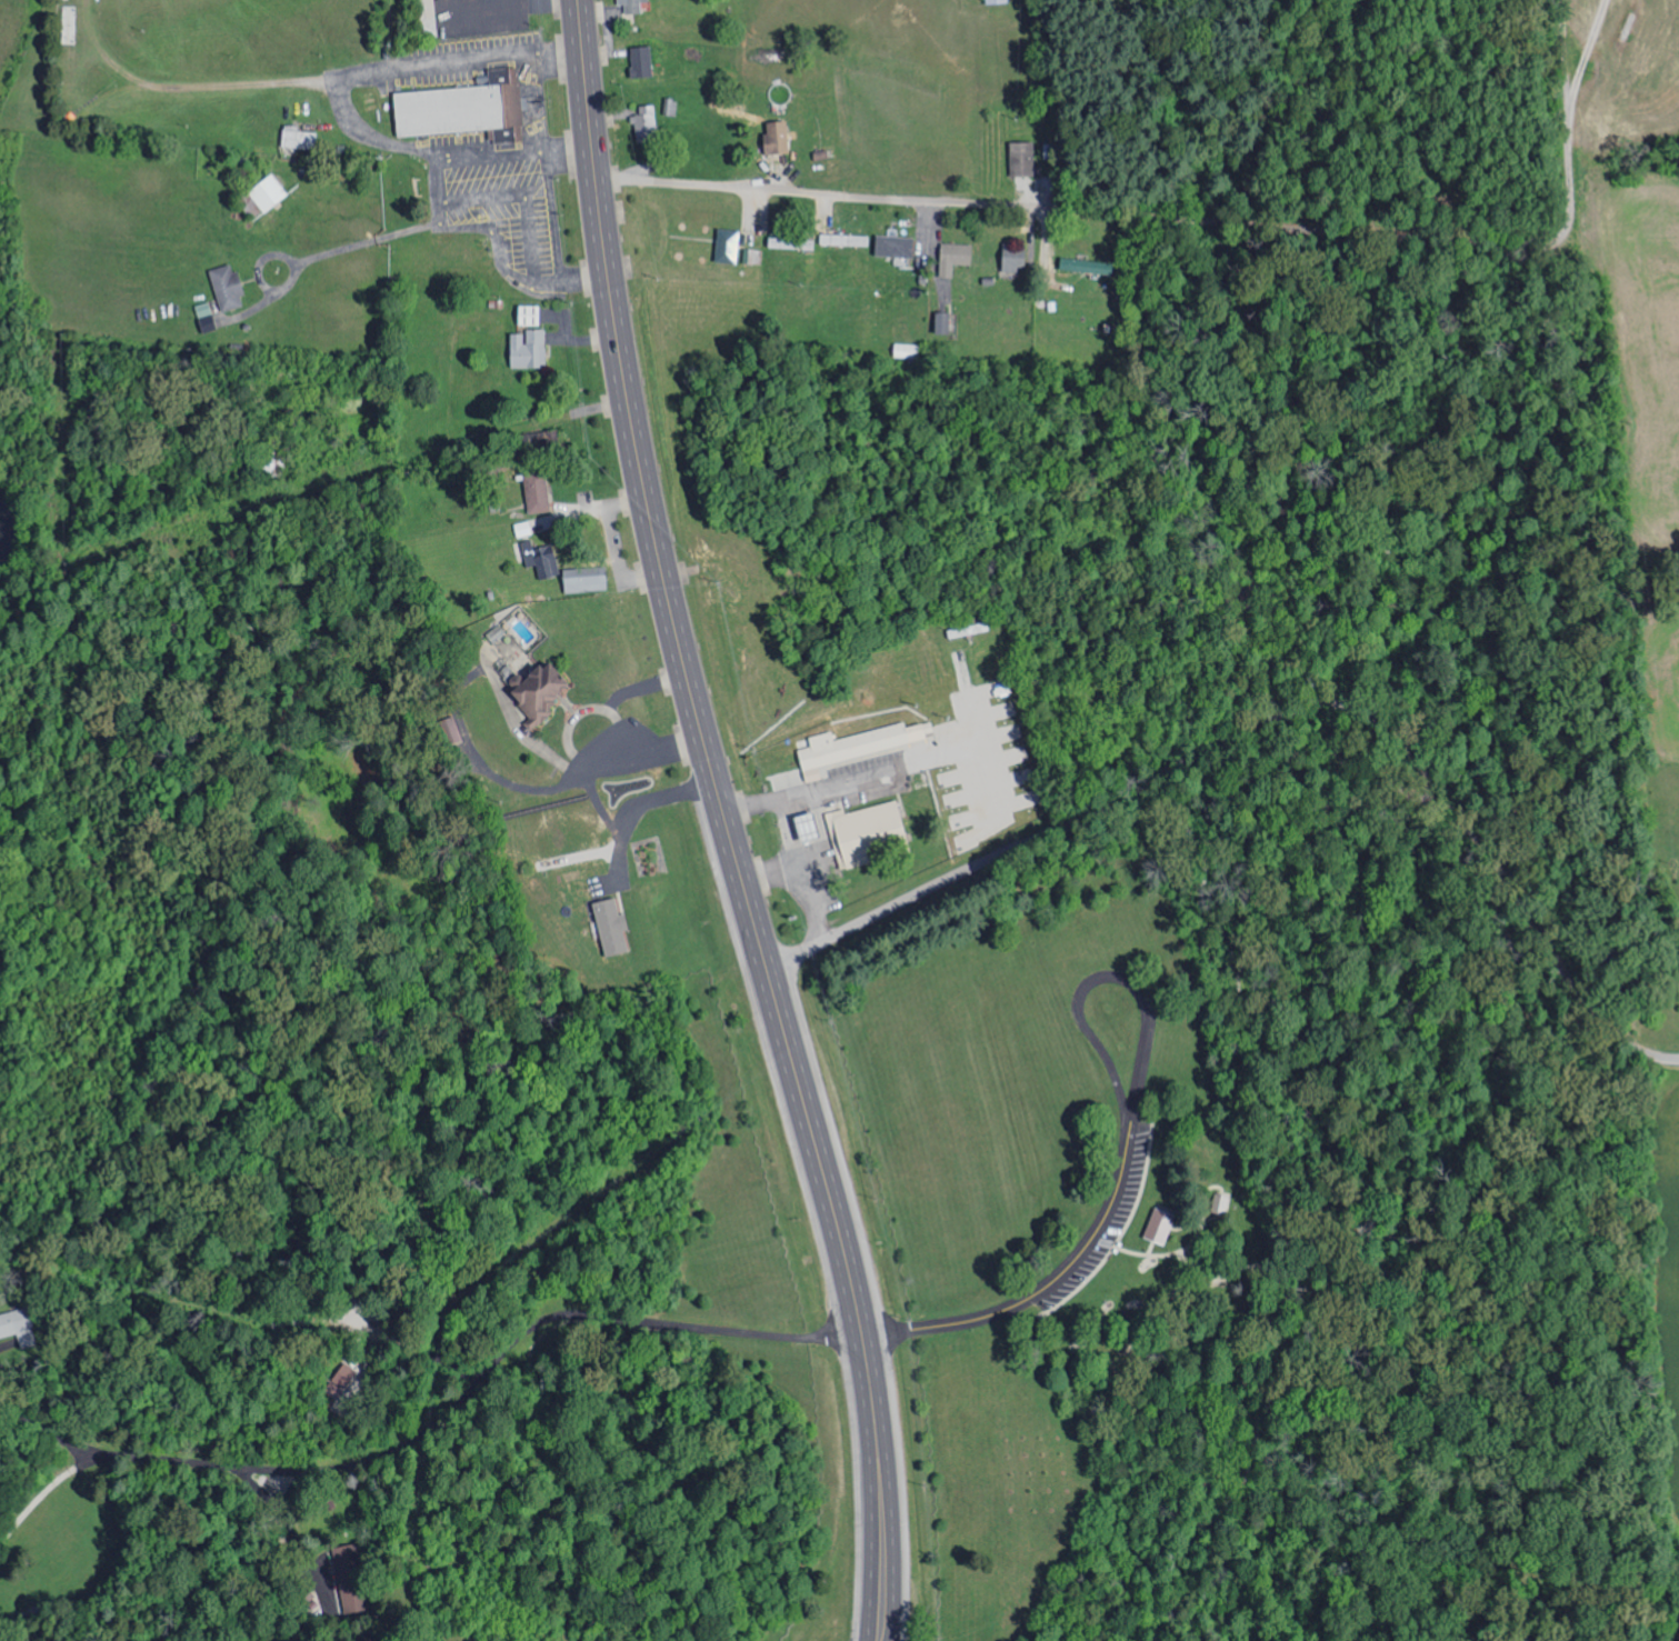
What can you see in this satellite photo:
building: (997, 1)
building: (633, 6)
building: (642, 62)
building: (467, 108)
building: (778, 138)
building: (301, 139)
building: (1025, 158)
road: (1197, 219)
building: (847, 240)
building: (783, 242)
building: (731, 244)
building: (896, 246)
building: (753, 256)
building: (957, 258)
building: (1016, 258)
building: (1087, 266)
building: (228, 287)
building: (531, 316)
building: (207, 317)
building: (943, 323)
building: (530, 349)
road: (639, 459)
building: (538, 487)
road: (1478, 517)
building: (523, 528)
building: (542, 557)
road: (616, 717)
road: (1280, 717)
building: (859, 744)
road: (610, 820)
building: (810, 825)
building: (863, 831)
road: (1209, 903)
building: (613, 924)
road: (1132, 975)
park: (1000, 1172)
building: (1217, 1204)
parking lot: (1103, 1223)
road: (1192, 1223)
building: (1156, 1228)
road: (1150, 1249)
road: (1181, 1252)
road: (852, 1269)
road: (1051, 1281)
building: (18, 1327)
road: (875, 1333)
road: (9, 1345)
road: (1529, 1407)
road: (432, 1421)
road: (47, 1431)
road: (1243, 1458)
road: (294, 1533)
building: (350, 1578)
building: (304, 1594)
road: (118, 1614)
road: (107, 1639)

